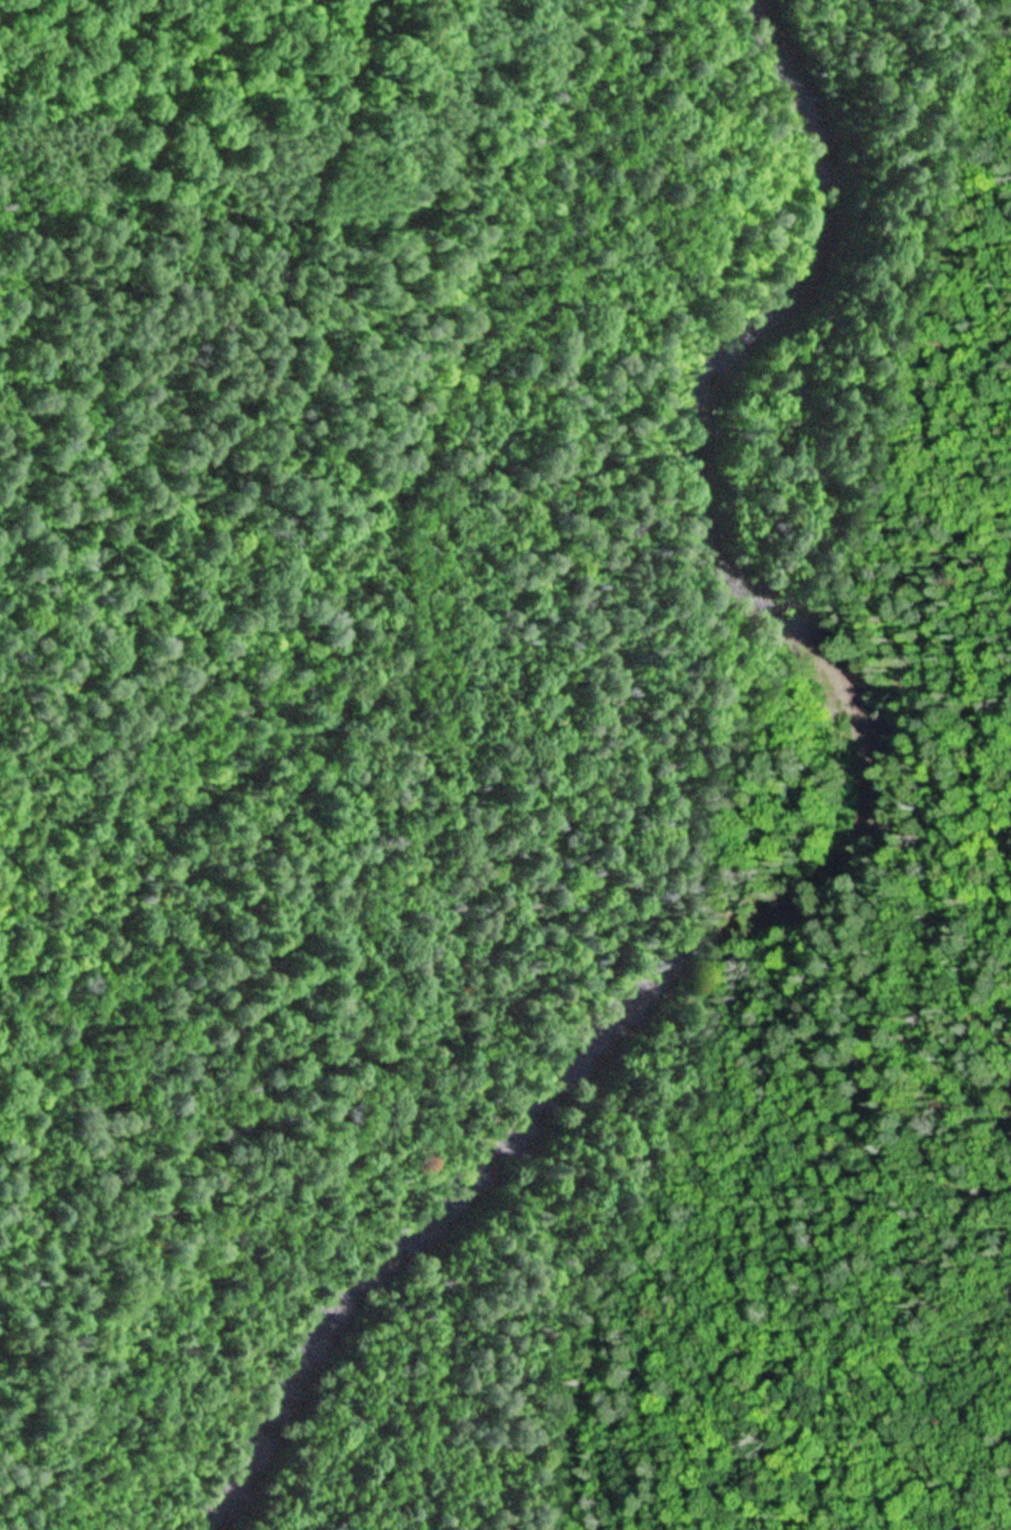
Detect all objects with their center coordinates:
river: (736, 621)
river: (339, 1323)
river: (545, 1343)

